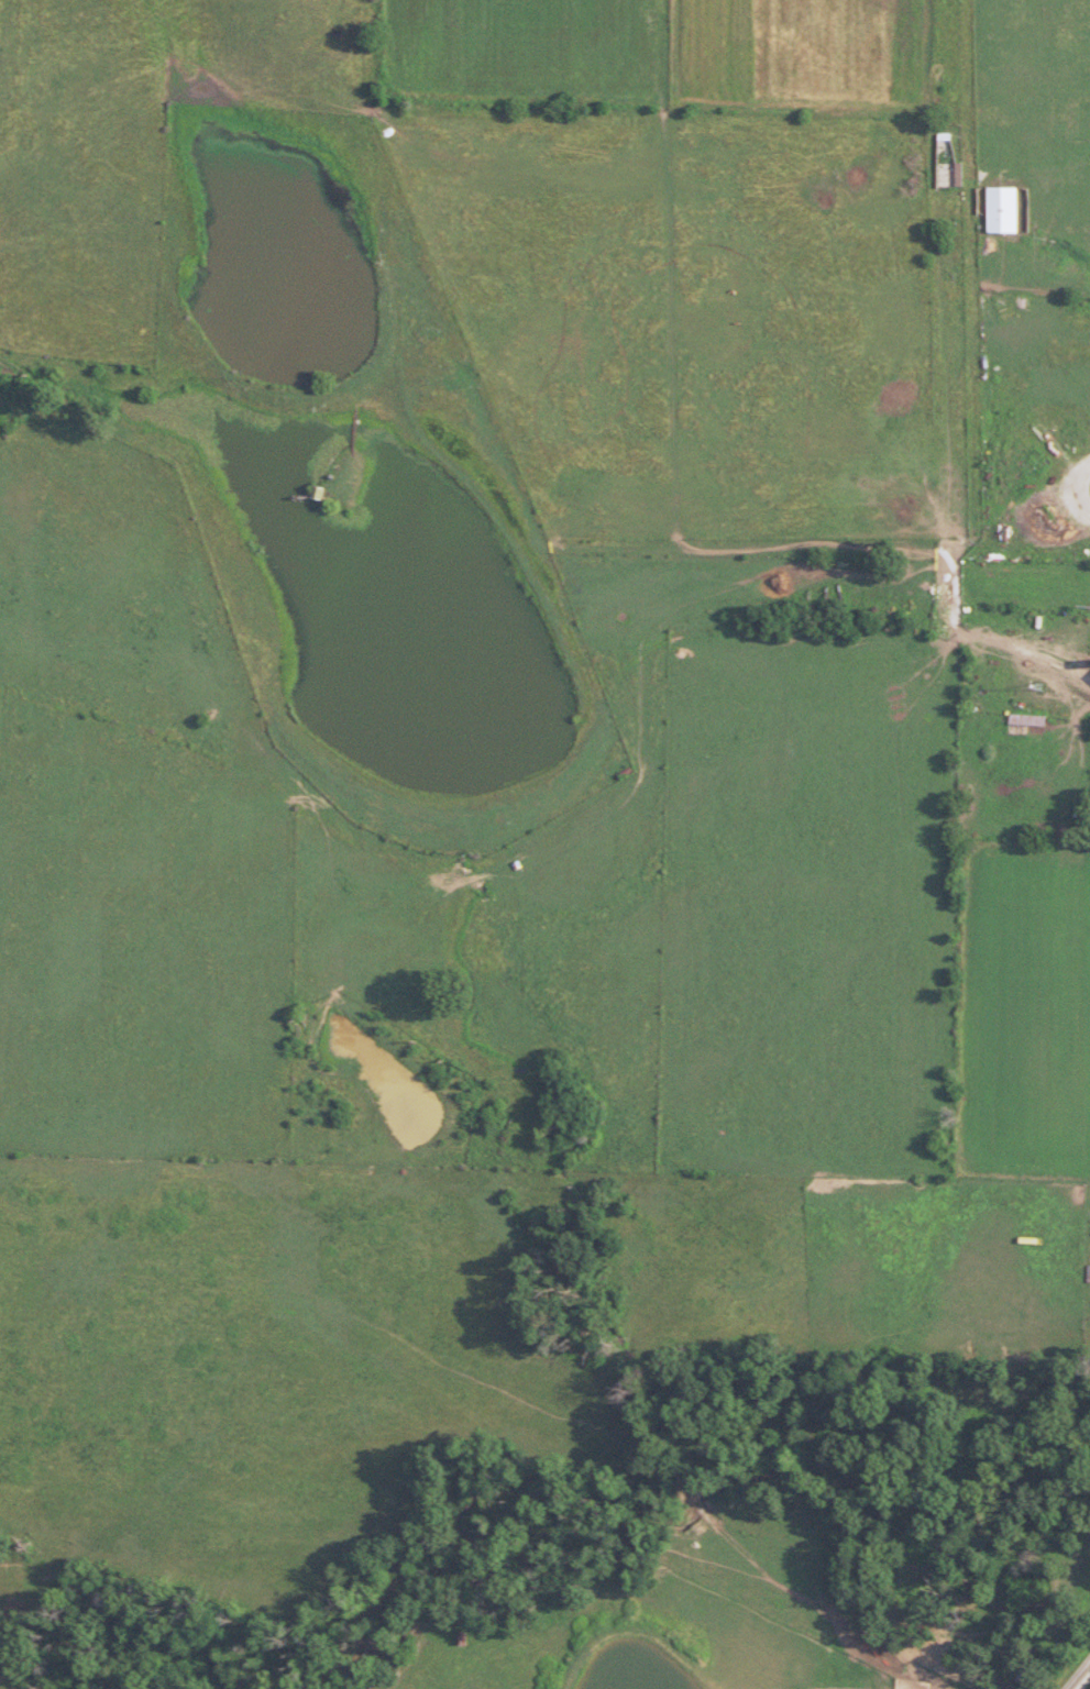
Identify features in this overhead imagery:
road: (1072, 490)
road: (826, 1333)
building: (690, 1600)
road: (1081, 1679)

